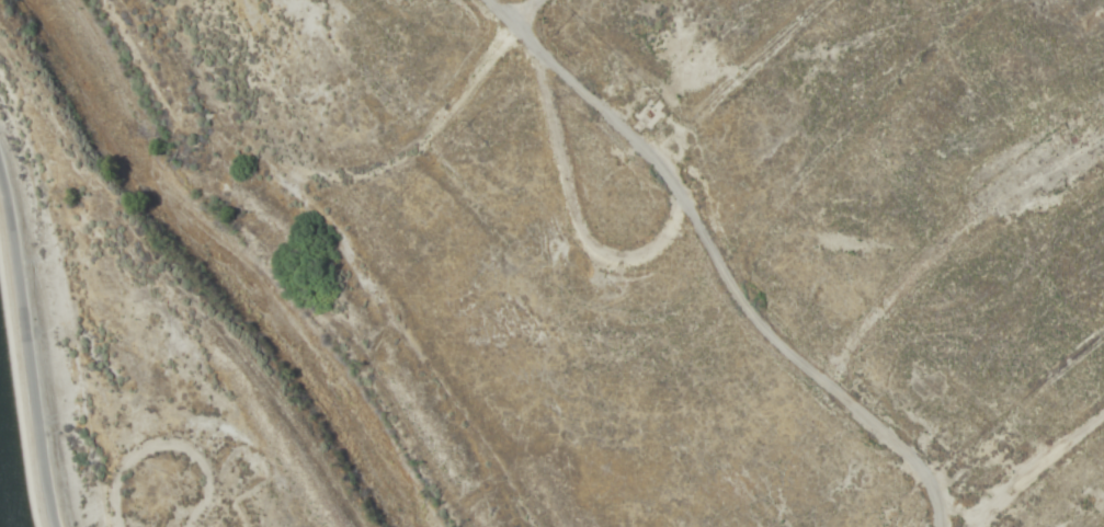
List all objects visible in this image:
road: (512, 5)
road: (619, 113)
road: (129, 293)

